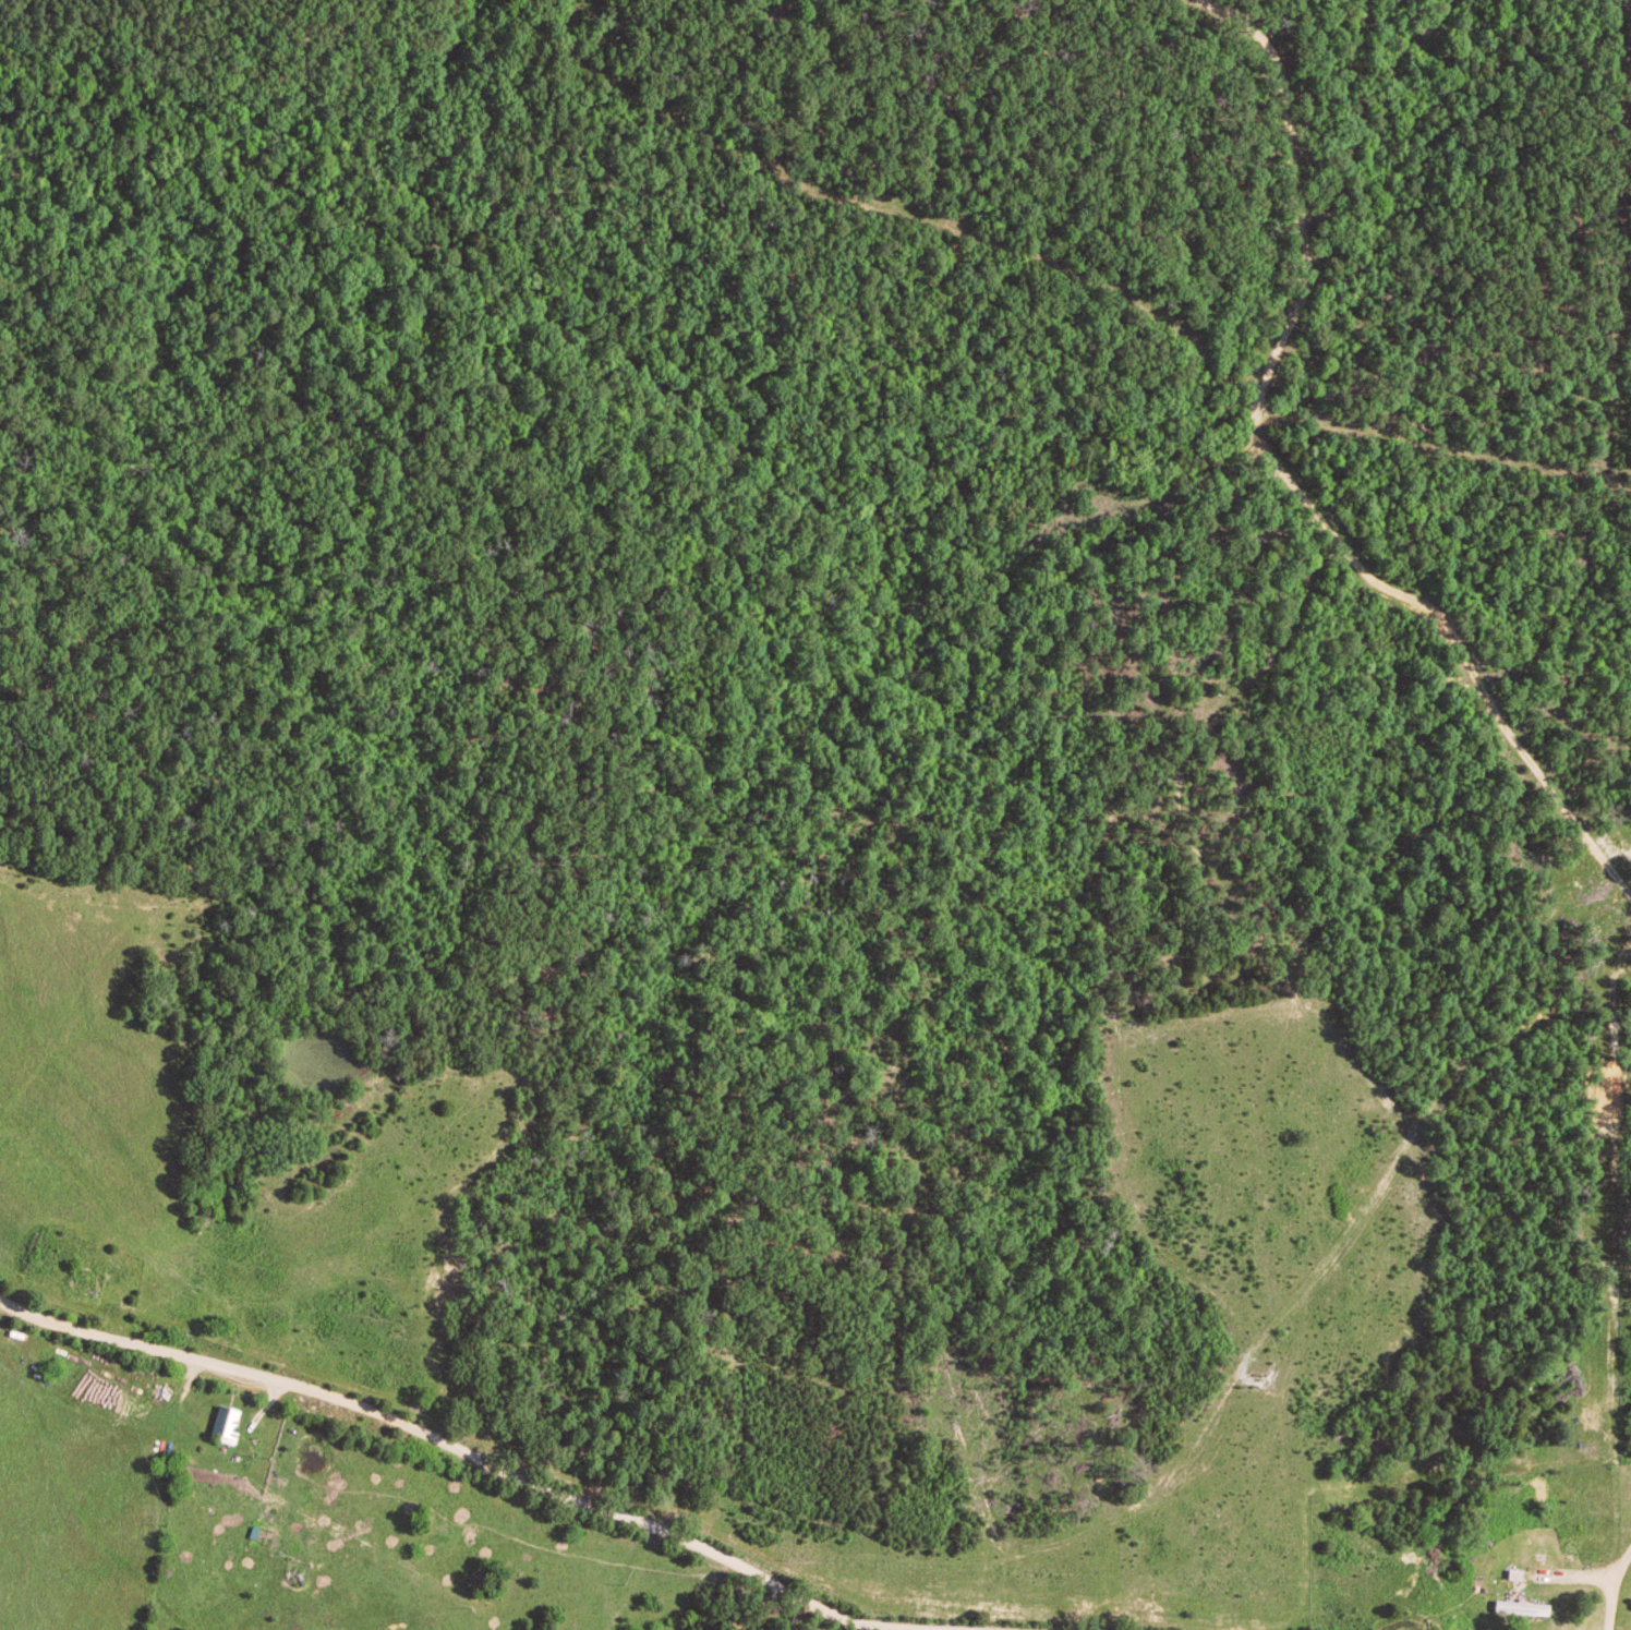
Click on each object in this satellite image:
road: (1614, 239)
road: (1098, 286)
road: (1289, 490)
road: (331, 1393)
road: (1590, 1580)
road: (629, 1581)
road: (760, 1582)
road: (1612, 1586)
building: (1526, 1607)

